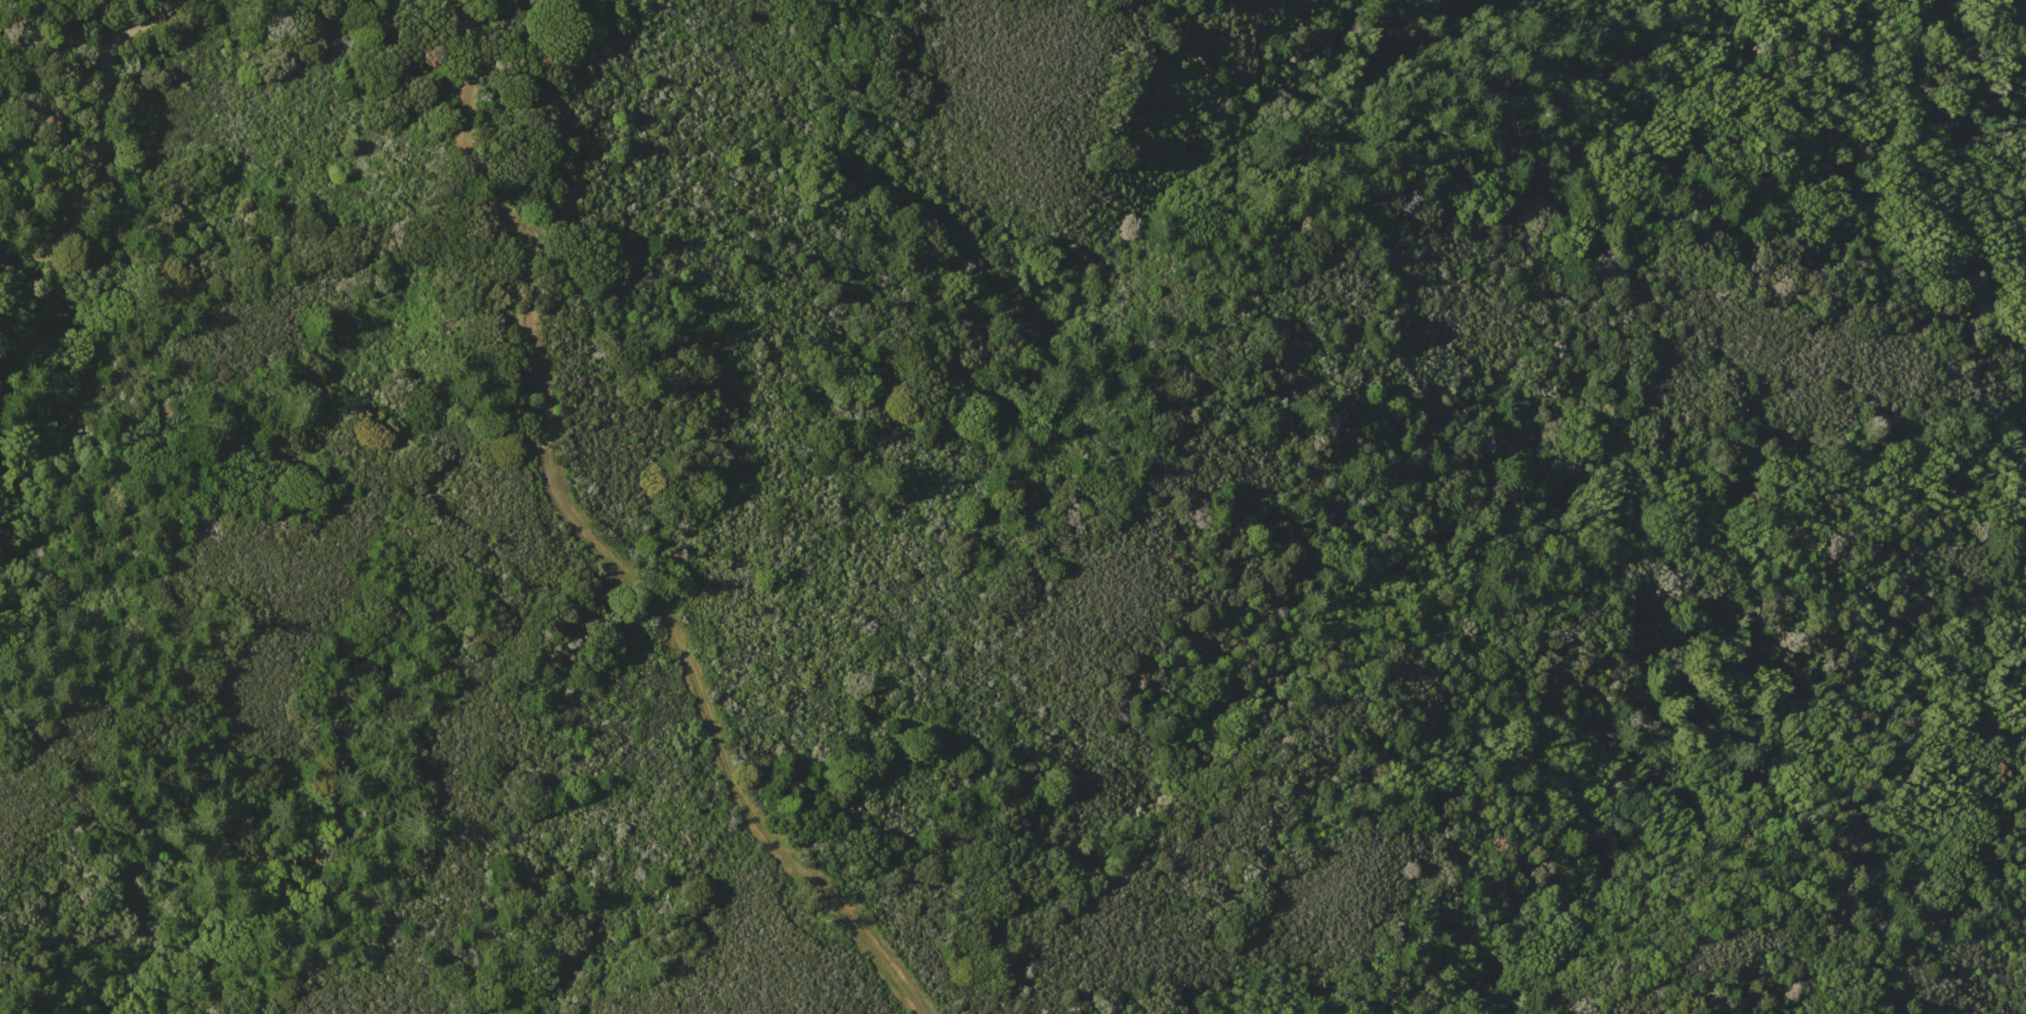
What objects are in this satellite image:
road: (79, 223)
road: (603, 542)

